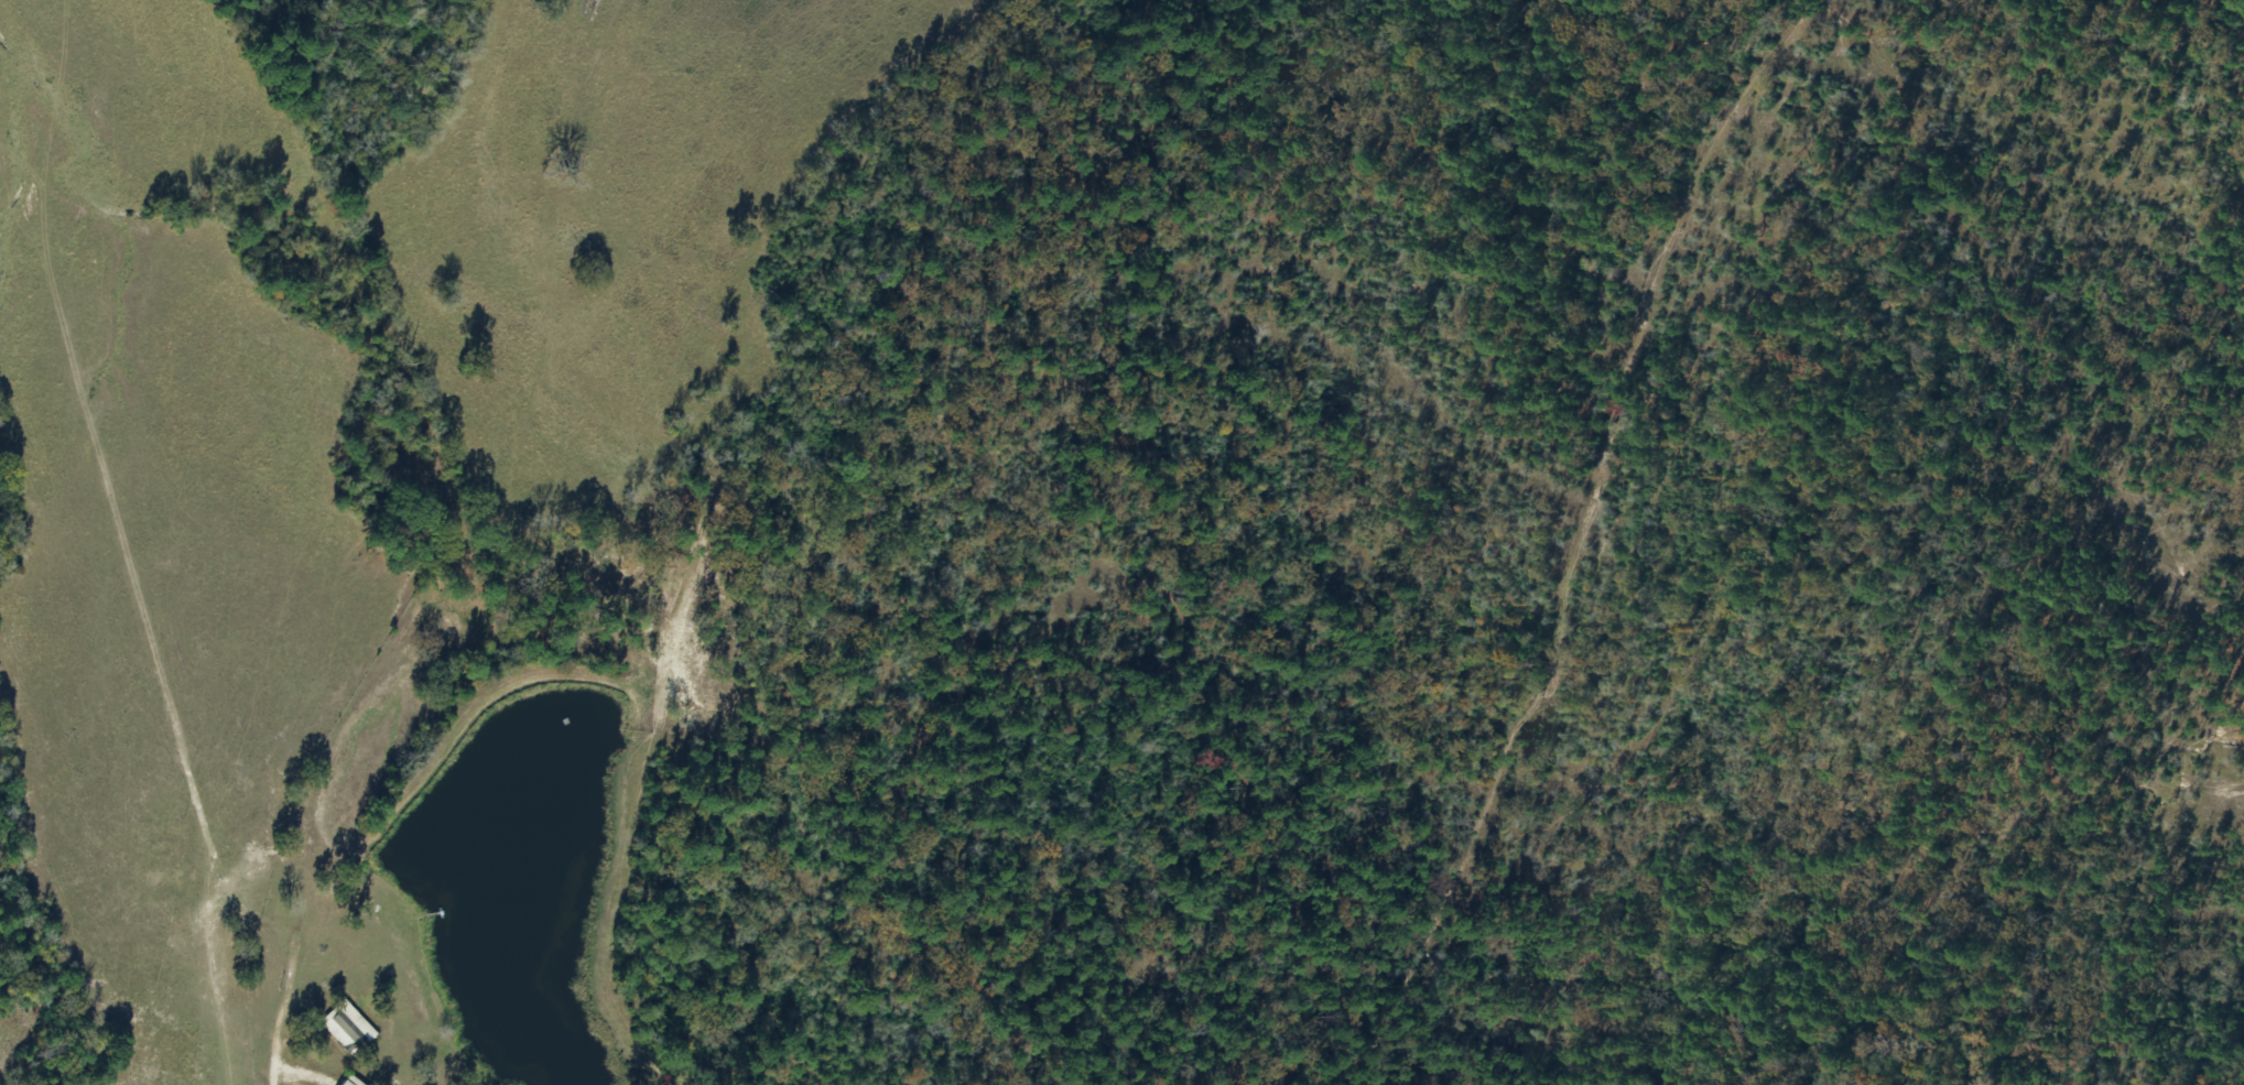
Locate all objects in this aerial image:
building: (347, 1030)
road: (299, 1054)
building: (347, 1082)

